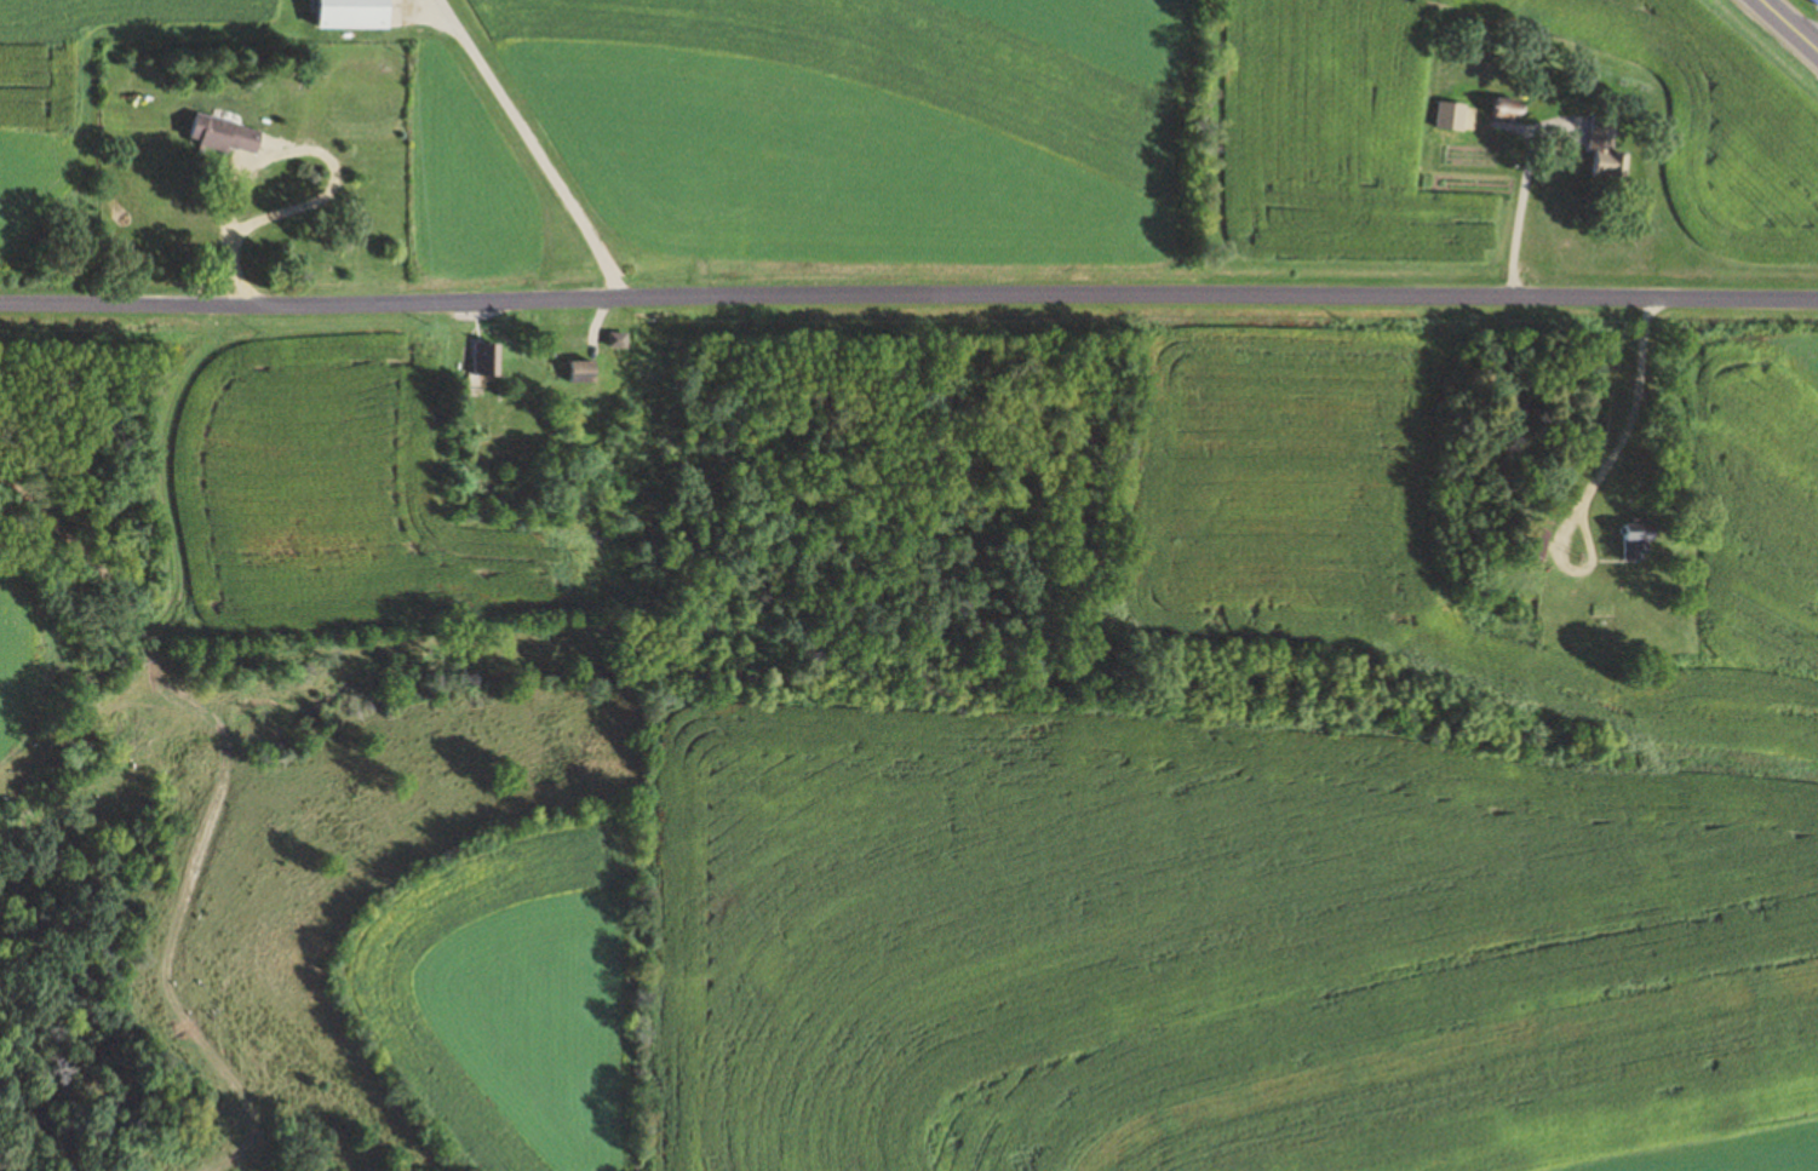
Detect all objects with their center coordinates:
building: (360, 13)
road: (1789, 24)
building: (228, 133)
road: (531, 148)
building: (1608, 150)
road: (225, 237)
road: (908, 291)
building: (587, 372)
road: (1622, 431)
building: (1641, 541)
building: (1539, 552)

